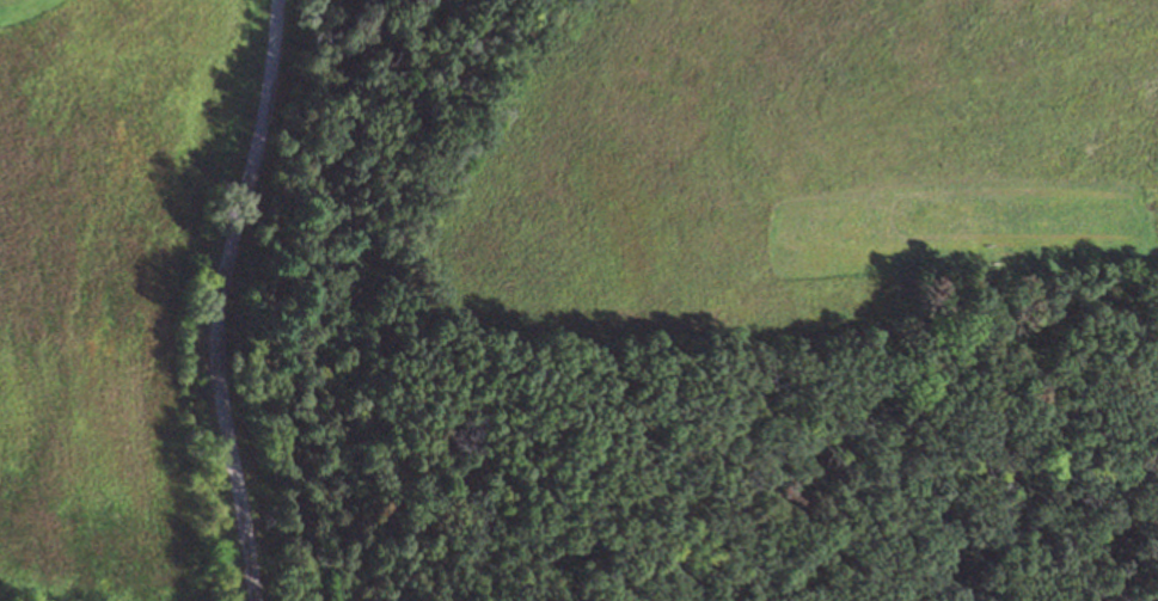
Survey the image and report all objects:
road: (221, 299)

